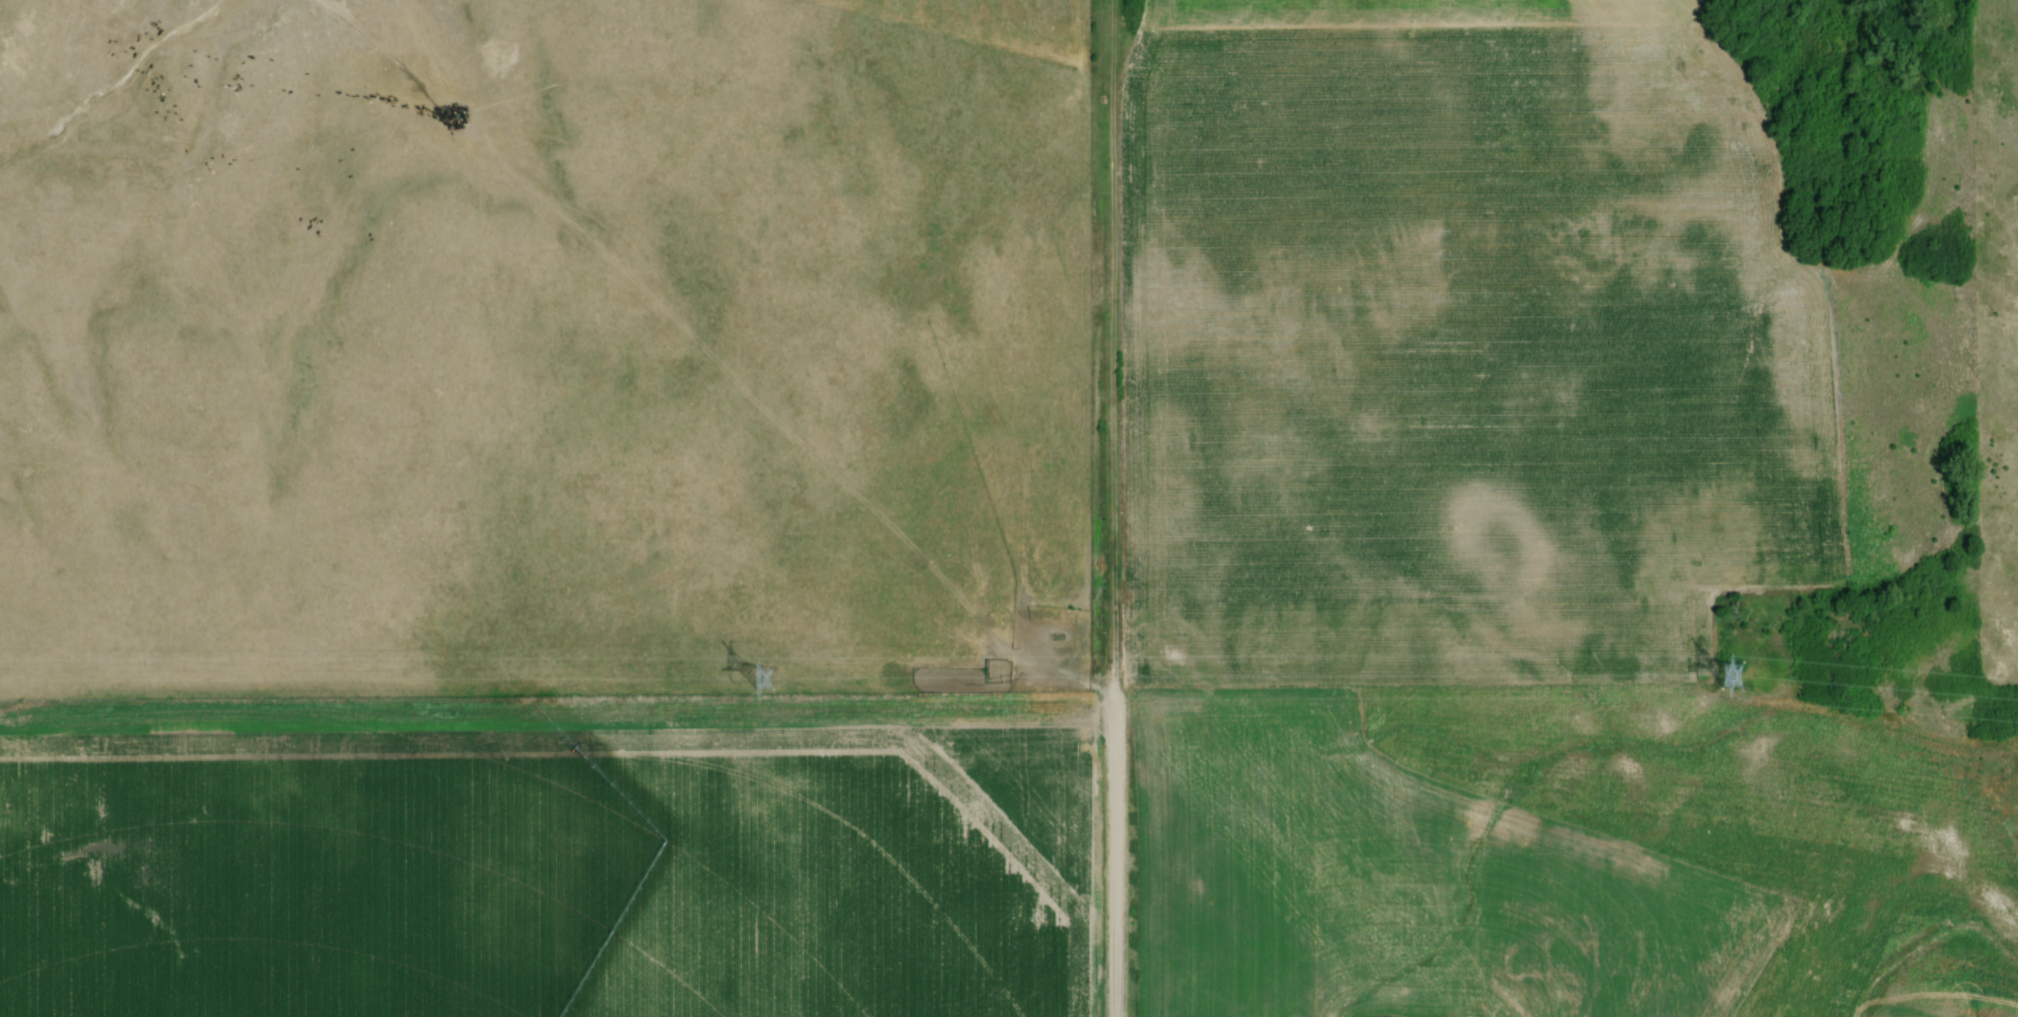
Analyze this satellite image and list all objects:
power tower: (1737, 676)
power tower: (762, 680)

